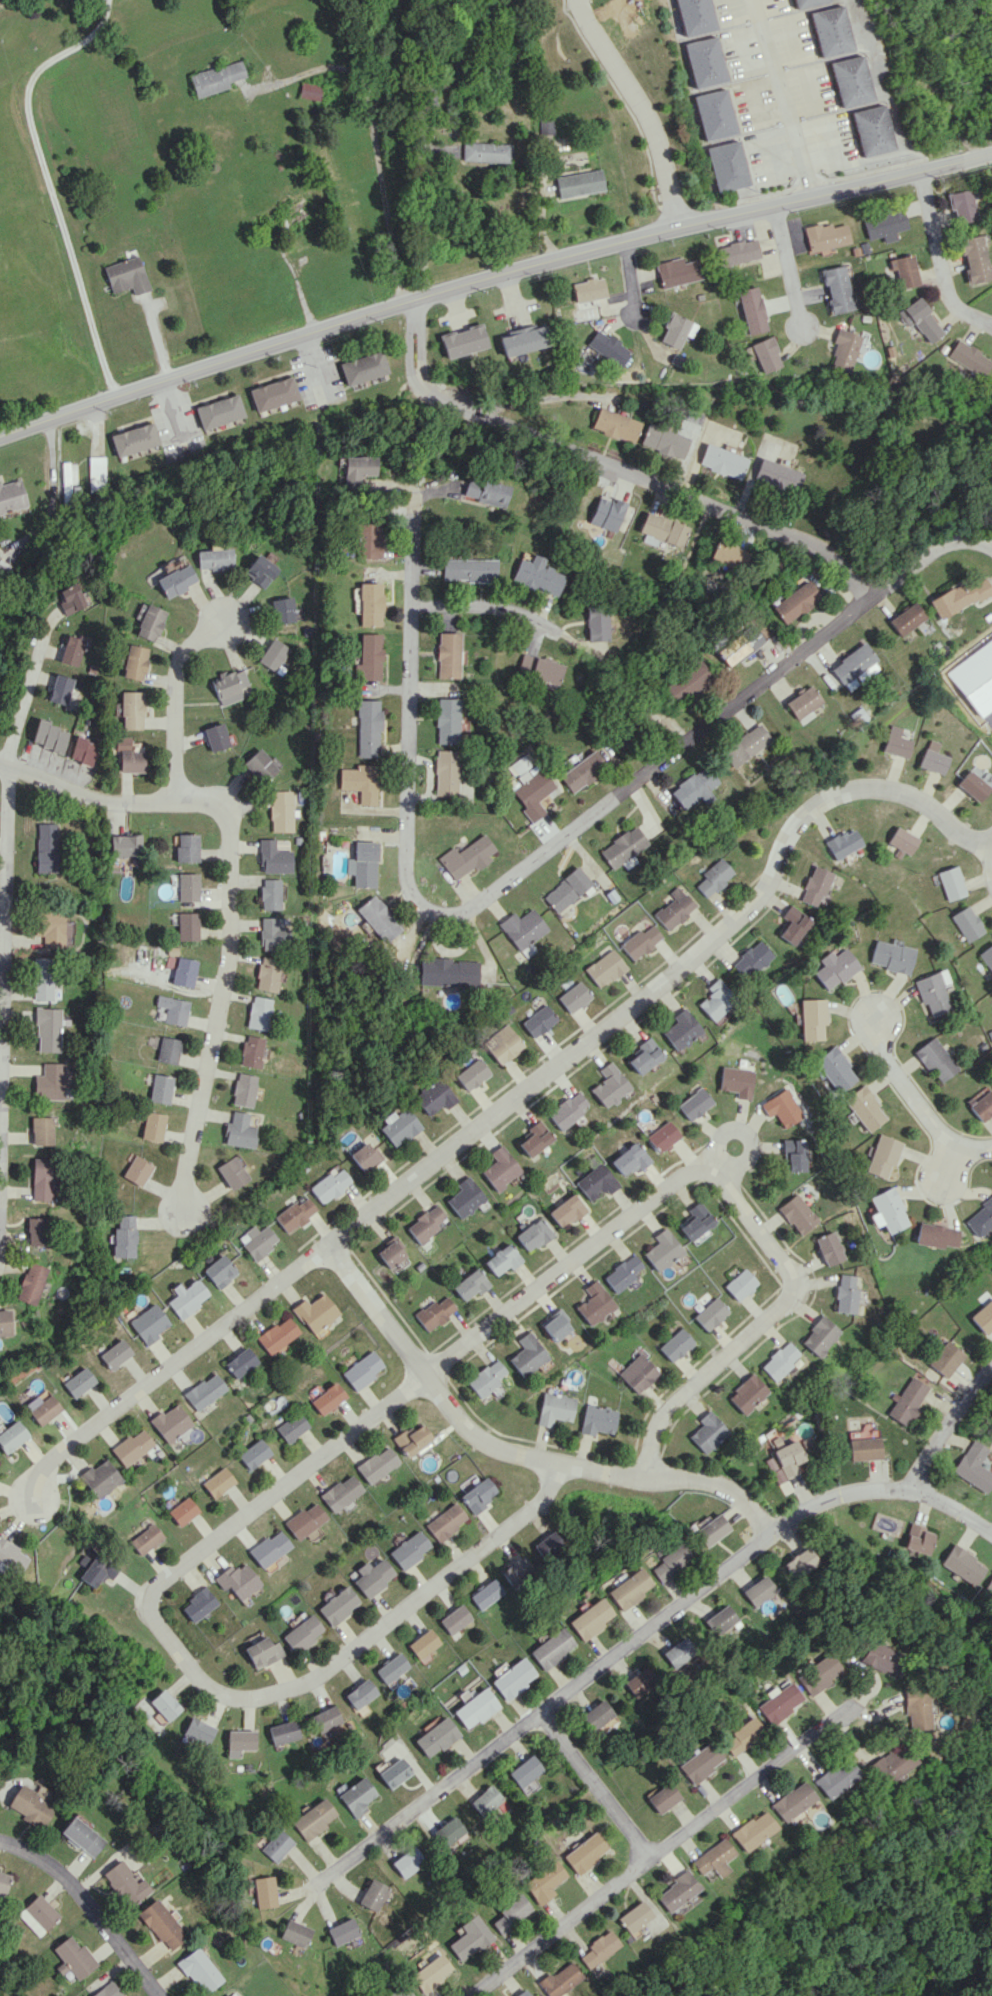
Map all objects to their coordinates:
building: (803, 2)
building: (693, 15)
building: (830, 31)
building: (704, 62)
building: (215, 78)
building: (850, 80)
building: (308, 91)
road: (788, 96)
road: (643, 109)
building: (713, 114)
building: (545, 126)
building: (871, 129)
road: (370, 135)
building: (485, 151)
building: (726, 166)
road: (49, 181)
building: (579, 183)
building: (961, 206)
road: (423, 223)
building: (884, 224)
road: (874, 225)
building: (825, 236)
building: (736, 252)
building: (974, 258)
road: (941, 260)
road: (788, 265)
building: (904, 270)
building: (676, 271)
building: (126, 275)
road: (491, 279)
road: (633, 279)
building: (836, 288)
building: (587, 291)
building: (751, 309)
building: (920, 319)
building: (675, 330)
building: (523, 339)
building: (463, 341)
building: (607, 347)
building: (844, 349)
building: (765, 354)
building: (969, 357)
building: (362, 367)
building: (273, 393)
building: (219, 411)
building: (614, 425)
building: (133, 439)
building: (662, 440)
building: (721, 461)
road: (612, 468)
building: (96, 471)
building: (356, 471)
building: (776, 475)
building: (66, 478)
building: (483, 491)
building: (11, 495)
building: (604, 513)
building: (662, 529)
building: (369, 539)
building: (729, 554)
road: (925, 555)
building: (213, 559)
building: (468, 569)
building: (259, 570)
building: (536, 575)
building: (175, 580)
building: (960, 596)
building: (67, 598)
building: (795, 601)
building: (369, 604)
road: (475, 609)
building: (282, 610)
building: (906, 618)
building: (150, 622)
building: (594, 623)
building: (738, 645)
building: (72, 649)
building: (447, 655)
building: (273, 656)
building: (368, 657)
building: (134, 662)
building: (854, 666)
building: (538, 668)
road: (409, 673)
building: (685, 680)
building: (230, 686)
road: (27, 689)
building: (60, 689)
road: (171, 700)
building: (804, 702)
building: (131, 710)
building: (857, 716)
building: (447, 719)
building: (368, 728)
building: (48, 736)
building: (215, 736)
building: (121, 742)
building: (895, 742)
building: (746, 745)
building: (83, 750)
building: (932, 758)
building: (131, 761)
building: (259, 765)
building: (582, 771)
building: (446, 773)
building: (361, 782)
building: (528, 785)
building: (971, 785)
building: (695, 787)
road: (629, 789)
road: (108, 799)
building: (281, 811)
building: (903, 840)
building: (844, 843)
building: (124, 845)
building: (46, 846)
building: (186, 847)
building: (623, 847)
building: (273, 857)
building: (467, 857)
building: (363, 864)
building: (714, 877)
building: (951, 883)
building: (815, 885)
building: (187, 886)
building: (566, 889)
building: (270, 894)
building: (674, 908)
building: (378, 918)
building: (967, 923)
building: (793, 924)
building: (187, 926)
building: (50, 928)
building: (523, 929)
building: (271, 933)
building: (641, 941)
building: (891, 956)
building: (987, 957)
building: (750, 959)
building: (836, 967)
building: (604, 968)
building: (183, 972)
building: (448, 972)
building: (267, 974)
road: (2, 976)
building: (42, 978)
building: (933, 992)
building: (573, 997)
building: (715, 1000)
road: (220, 1006)
building: (172, 1009)
building: (257, 1012)
building: (813, 1018)
building: (538, 1021)
building: (47, 1029)
building: (680, 1029)
building: (502, 1044)
building: (167, 1050)
building: (249, 1051)
building: (644, 1055)
building: (936, 1059)
building: (835, 1069)
building: (472, 1074)
building: (736, 1081)
building: (50, 1082)
building: (609, 1085)
building: (159, 1088)
building: (242, 1089)
building: (434, 1096)
road: (505, 1102)
building: (693, 1103)
road: (919, 1103)
building: (981, 1103)
building: (782, 1108)
building: (864, 1108)
building: (568, 1109)
building: (152, 1126)
building: (399, 1126)
building: (41, 1130)
building: (238, 1130)
building: (661, 1136)
building: (535, 1139)
building: (793, 1154)
building: (363, 1155)
building: (881, 1155)
building: (628, 1159)
building: (500, 1168)
building: (136, 1170)
building: (230, 1173)
building: (41, 1179)
building: (596, 1181)
building: (329, 1185)
building: (464, 1197)
building: (566, 1210)
building: (885, 1210)
building: (294, 1214)
building: (796, 1214)
building: (979, 1217)
building: (692, 1221)
building: (424, 1224)
road: (617, 1229)
building: (37, 1231)
building: (533, 1234)
building: (124, 1235)
building: (934, 1235)
building: (256, 1241)
building: (828, 1248)
building: (660, 1250)
building: (389, 1252)
building: (502, 1259)
building: (218, 1271)
building: (620, 1273)
building: (30, 1283)
building: (470, 1284)
building: (738, 1284)
building: (845, 1294)
building: (186, 1297)
building: (593, 1303)
building: (314, 1312)
building: (433, 1312)
building: (708, 1314)
building: (983, 1317)
building: (5, 1322)
building: (148, 1323)
building: (554, 1325)
building: (276, 1335)
building: (818, 1336)
building: (674, 1345)
building: (115, 1354)
building: (526, 1355)
building: (944, 1358)
building: (778, 1360)
building: (240, 1362)
road: (715, 1366)
building: (360, 1370)
building: (636, 1372)
building: (485, 1377)
building: (78, 1382)
building: (205, 1391)
building: (745, 1393)
building: (326, 1398)
building: (907, 1400)
building: (553, 1408)
building: (44, 1409)
building: (990, 1413)
building: (596, 1419)
building: (171, 1423)
building: (290, 1427)
road: (946, 1427)
building: (706, 1432)
building: (11, 1436)
building: (410, 1439)
building: (806, 1442)
road: (506, 1446)
building: (132, 1447)
building: (863, 1448)
building: (253, 1453)
building: (787, 1457)
building: (375, 1464)
building: (973, 1466)
building: (99, 1478)
building: (217, 1482)
building: (339, 1493)
building: (476, 1494)
building: (182, 1510)
building: (303, 1520)
building: (444, 1521)
building: (710, 1529)
building: (145, 1539)
building: (917, 1539)
building: (546, 1544)
building: (267, 1548)
building: (408, 1549)
building: (12, 1556)
building: (669, 1561)
building: (799, 1563)
building: (961, 1565)
building: (96, 1570)
building: (516, 1571)
building: (371, 1576)
building: (235, 1580)
building: (988, 1587)
building: (628, 1588)
building: (757, 1590)
building: (485, 1594)
building: (195, 1604)
building: (336, 1605)
building: (454, 1619)
building: (589, 1619)
building: (719, 1619)
road: (631, 1632)
building: (300, 1633)
building: (422, 1643)
building: (551, 1648)
building: (259, 1652)
building: (678, 1652)
building: (880, 1658)
building: (389, 1668)
building: (816, 1673)
road: (195, 1678)
building: (513, 1678)
building: (640, 1682)
building: (358, 1693)
building: (778, 1702)
building: (163, 1705)
building: (474, 1708)
building: (914, 1708)
building: (597, 1714)
building: (324, 1719)
building: (198, 1730)
building: (282, 1732)
building: (742, 1736)
building: (435, 1737)
building: (239, 1742)
building: (700, 1762)
building: (890, 1763)
building: (524, 1770)
building: (393, 1772)
building: (835, 1777)
road: (592, 1785)
building: (529, 1786)
building: (355, 1796)
building: (662, 1797)
building: (486, 1800)
building: (791, 1801)
building: (30, 1806)
building: (312, 1818)
building: (752, 1830)
building: (449, 1831)
building: (81, 1836)
building: (275, 1845)
road: (660, 1849)
building: (585, 1853)
building: (713, 1858)
building: (407, 1861)
building: (543, 1881)
building: (4, 1882)
building: (124, 1884)
building: (263, 1891)
building: (676, 1891)
building: (372, 1894)
road: (87, 1907)
building: (511, 1912)
building: (38, 1915)
building: (634, 1916)
building: (162, 1924)
building: (341, 1931)
building: (294, 1933)
building: (468, 1938)
building: (599, 1948)
building: (73, 1957)
building: (198, 1970)
building: (430, 1972)
building: (559, 1980)
building: (108, 1990)
building: (400, 1991)
building: (523, 1993)
building: (231, 1994)

